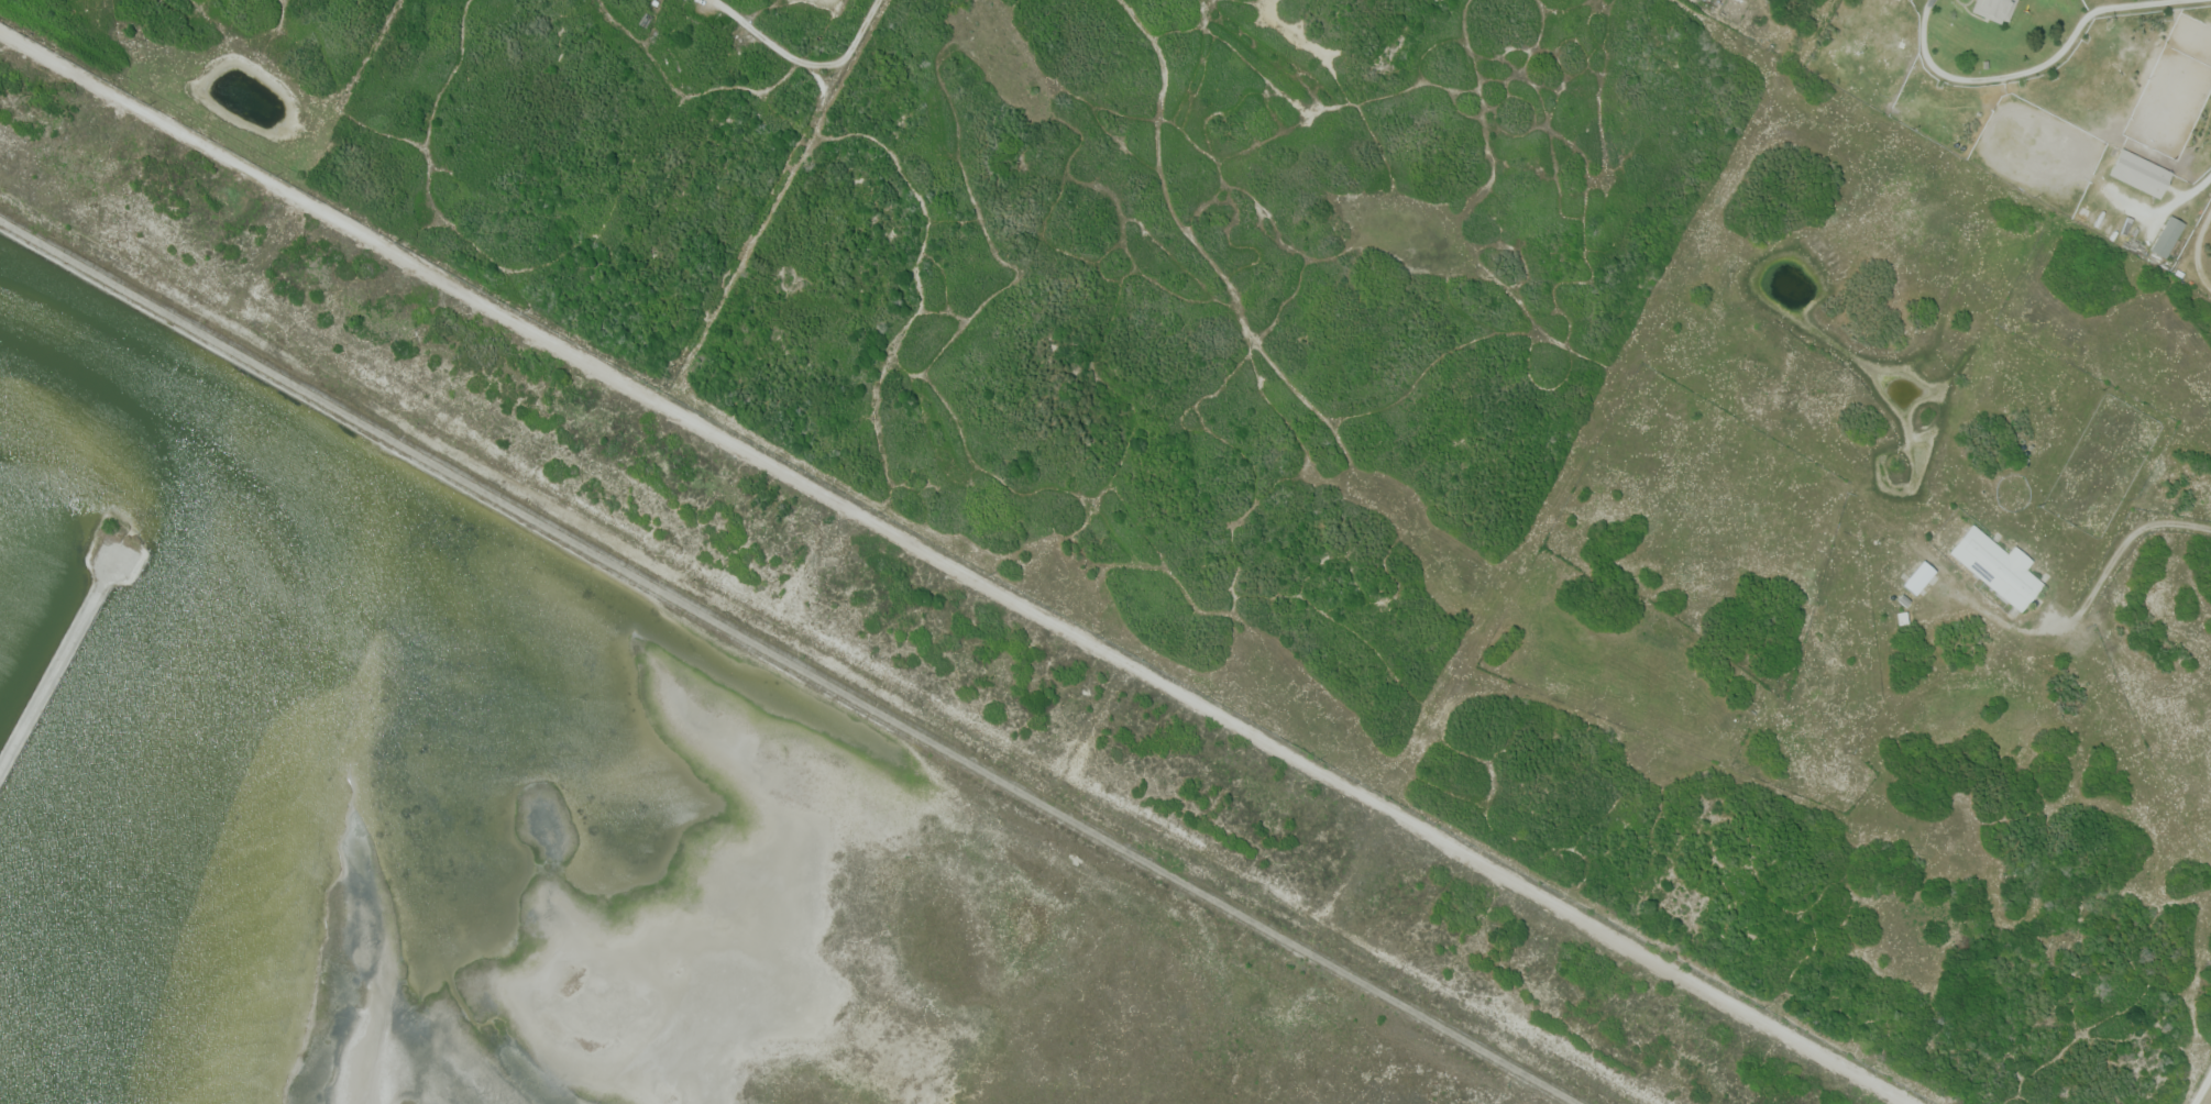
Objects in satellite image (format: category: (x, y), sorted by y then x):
building: (1997, 9)
building: (2139, 173)
building: (2167, 236)
road: (956, 567)
building: (1998, 567)
building: (1920, 577)
road: (2094, 587)
road: (792, 660)
road: (56, 662)
power plant: (646, 742)

